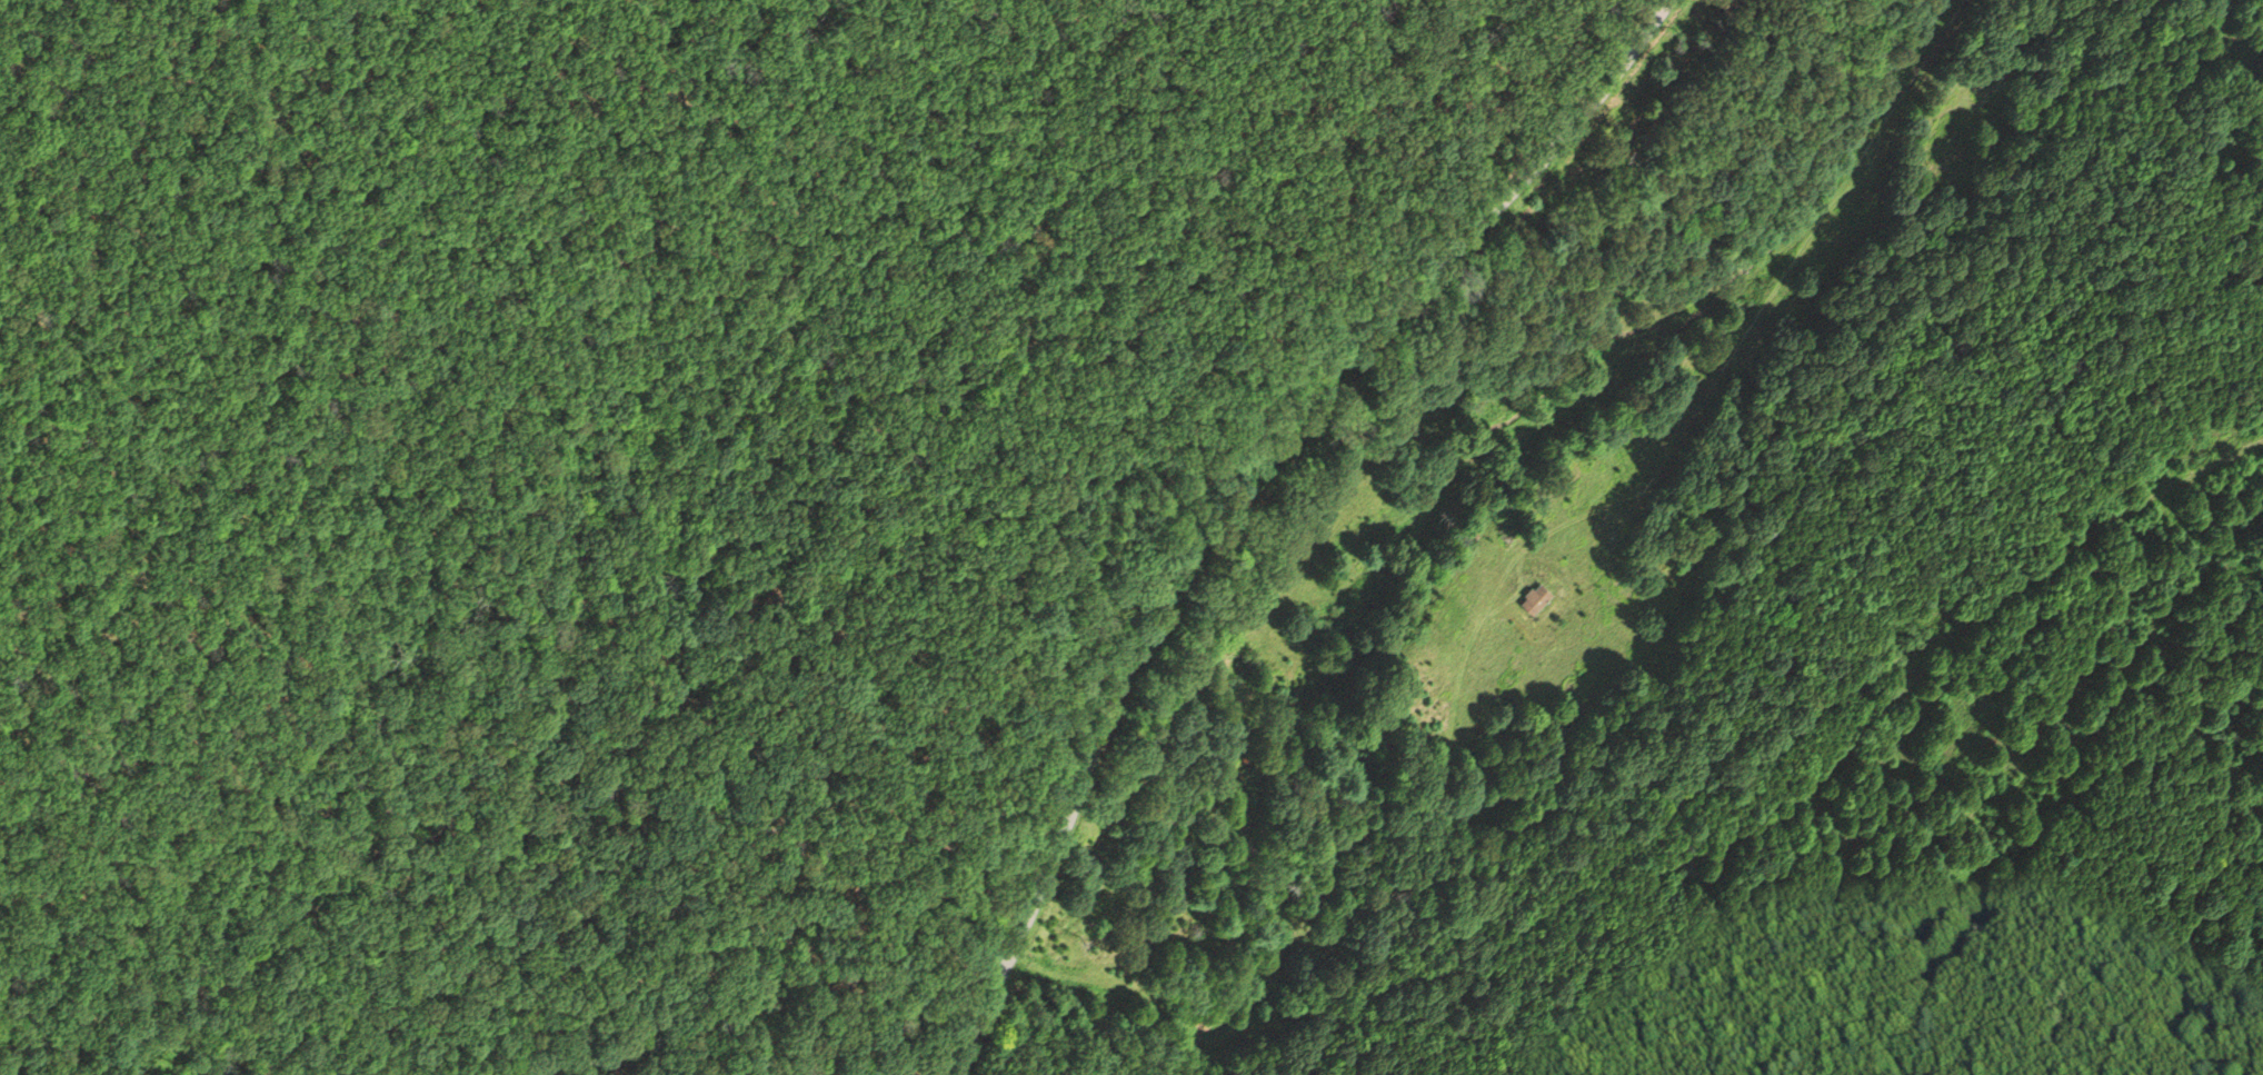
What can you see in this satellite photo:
road: (1242, 495)
building: (1537, 596)
road: (1624, 827)

